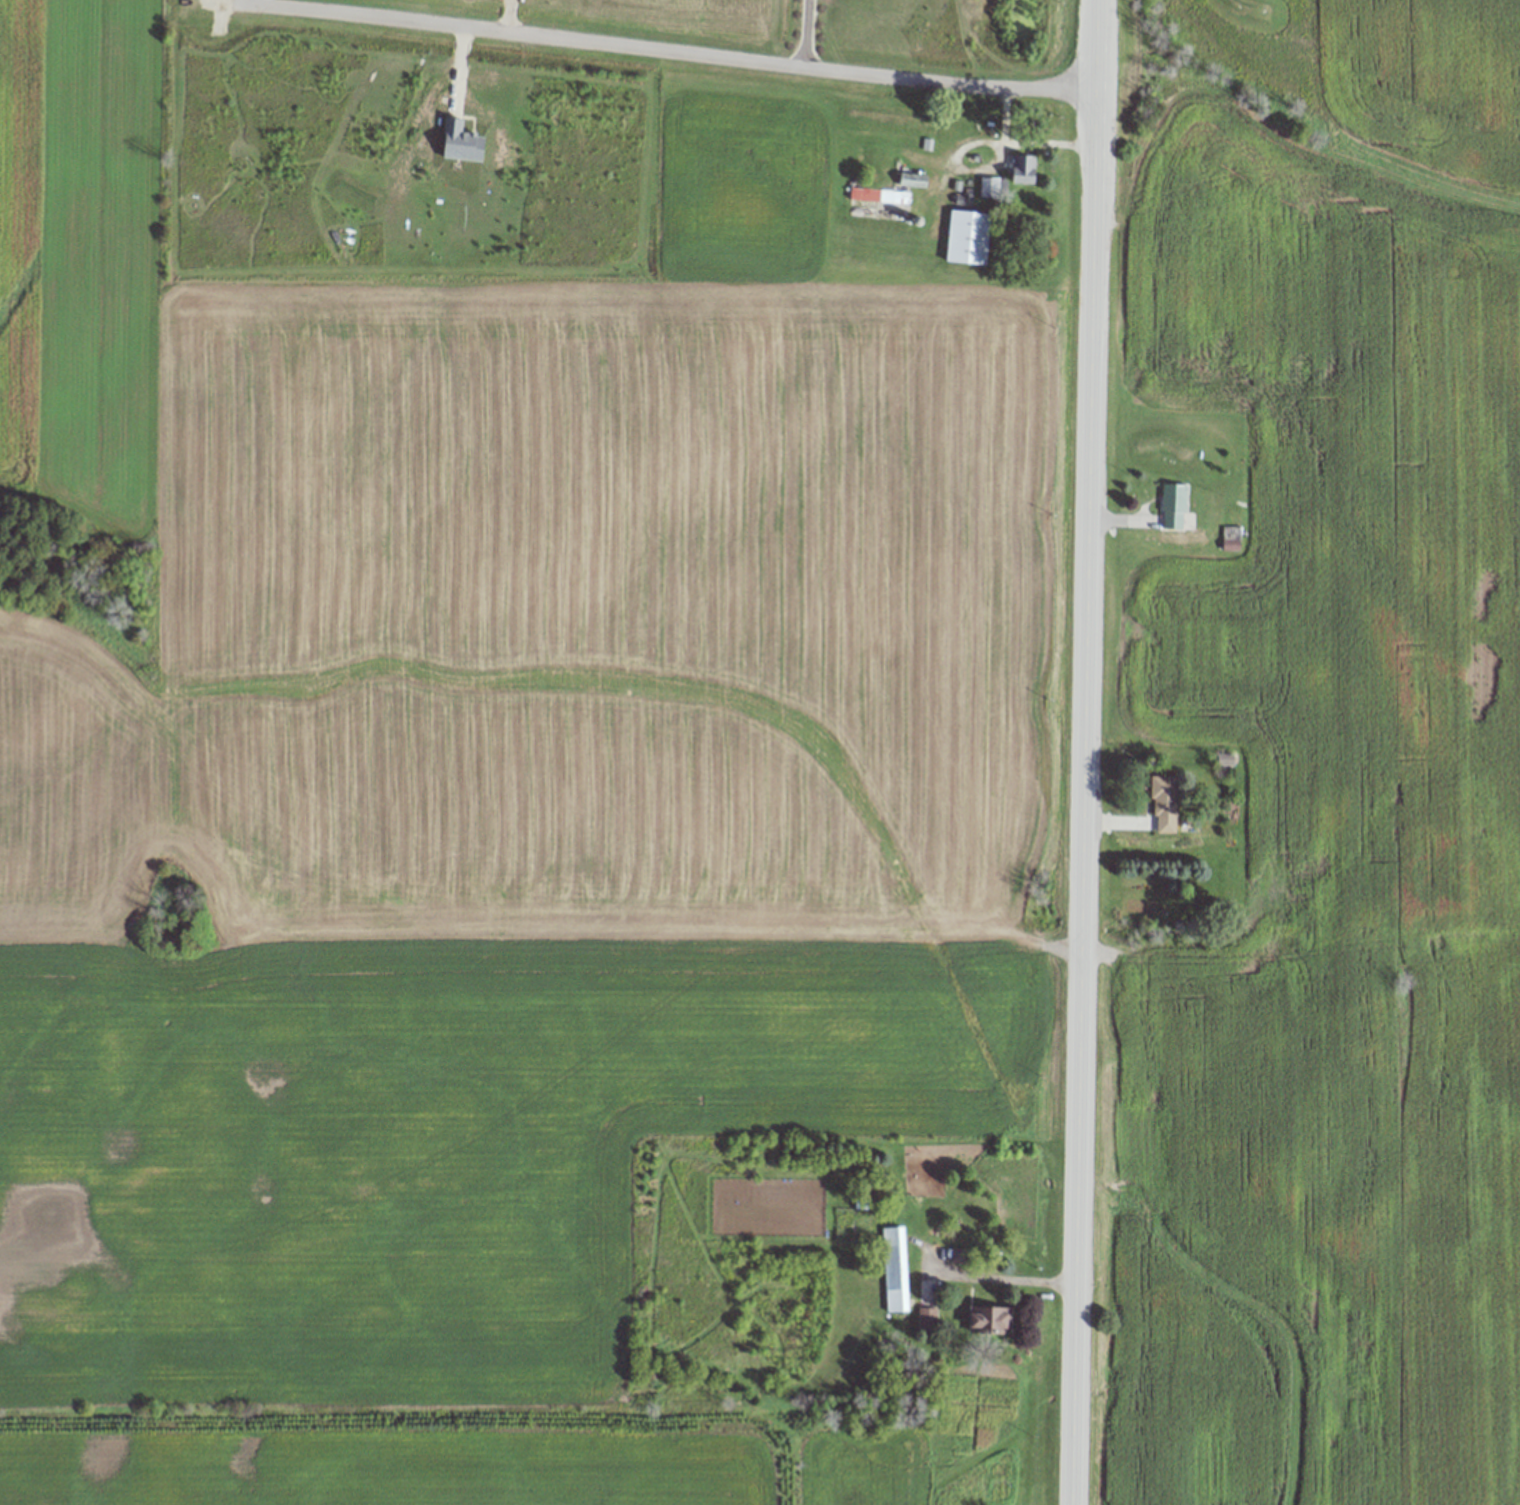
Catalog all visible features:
road: (655, 46)
building: (1023, 168)
building: (913, 179)
building: (988, 187)
building: (878, 198)
building: (967, 236)
building: (1173, 505)
road: (1086, 752)
building: (1223, 760)
building: (1164, 802)
building: (895, 1269)
road: (1016, 1278)
building: (929, 1318)
building: (989, 1320)

